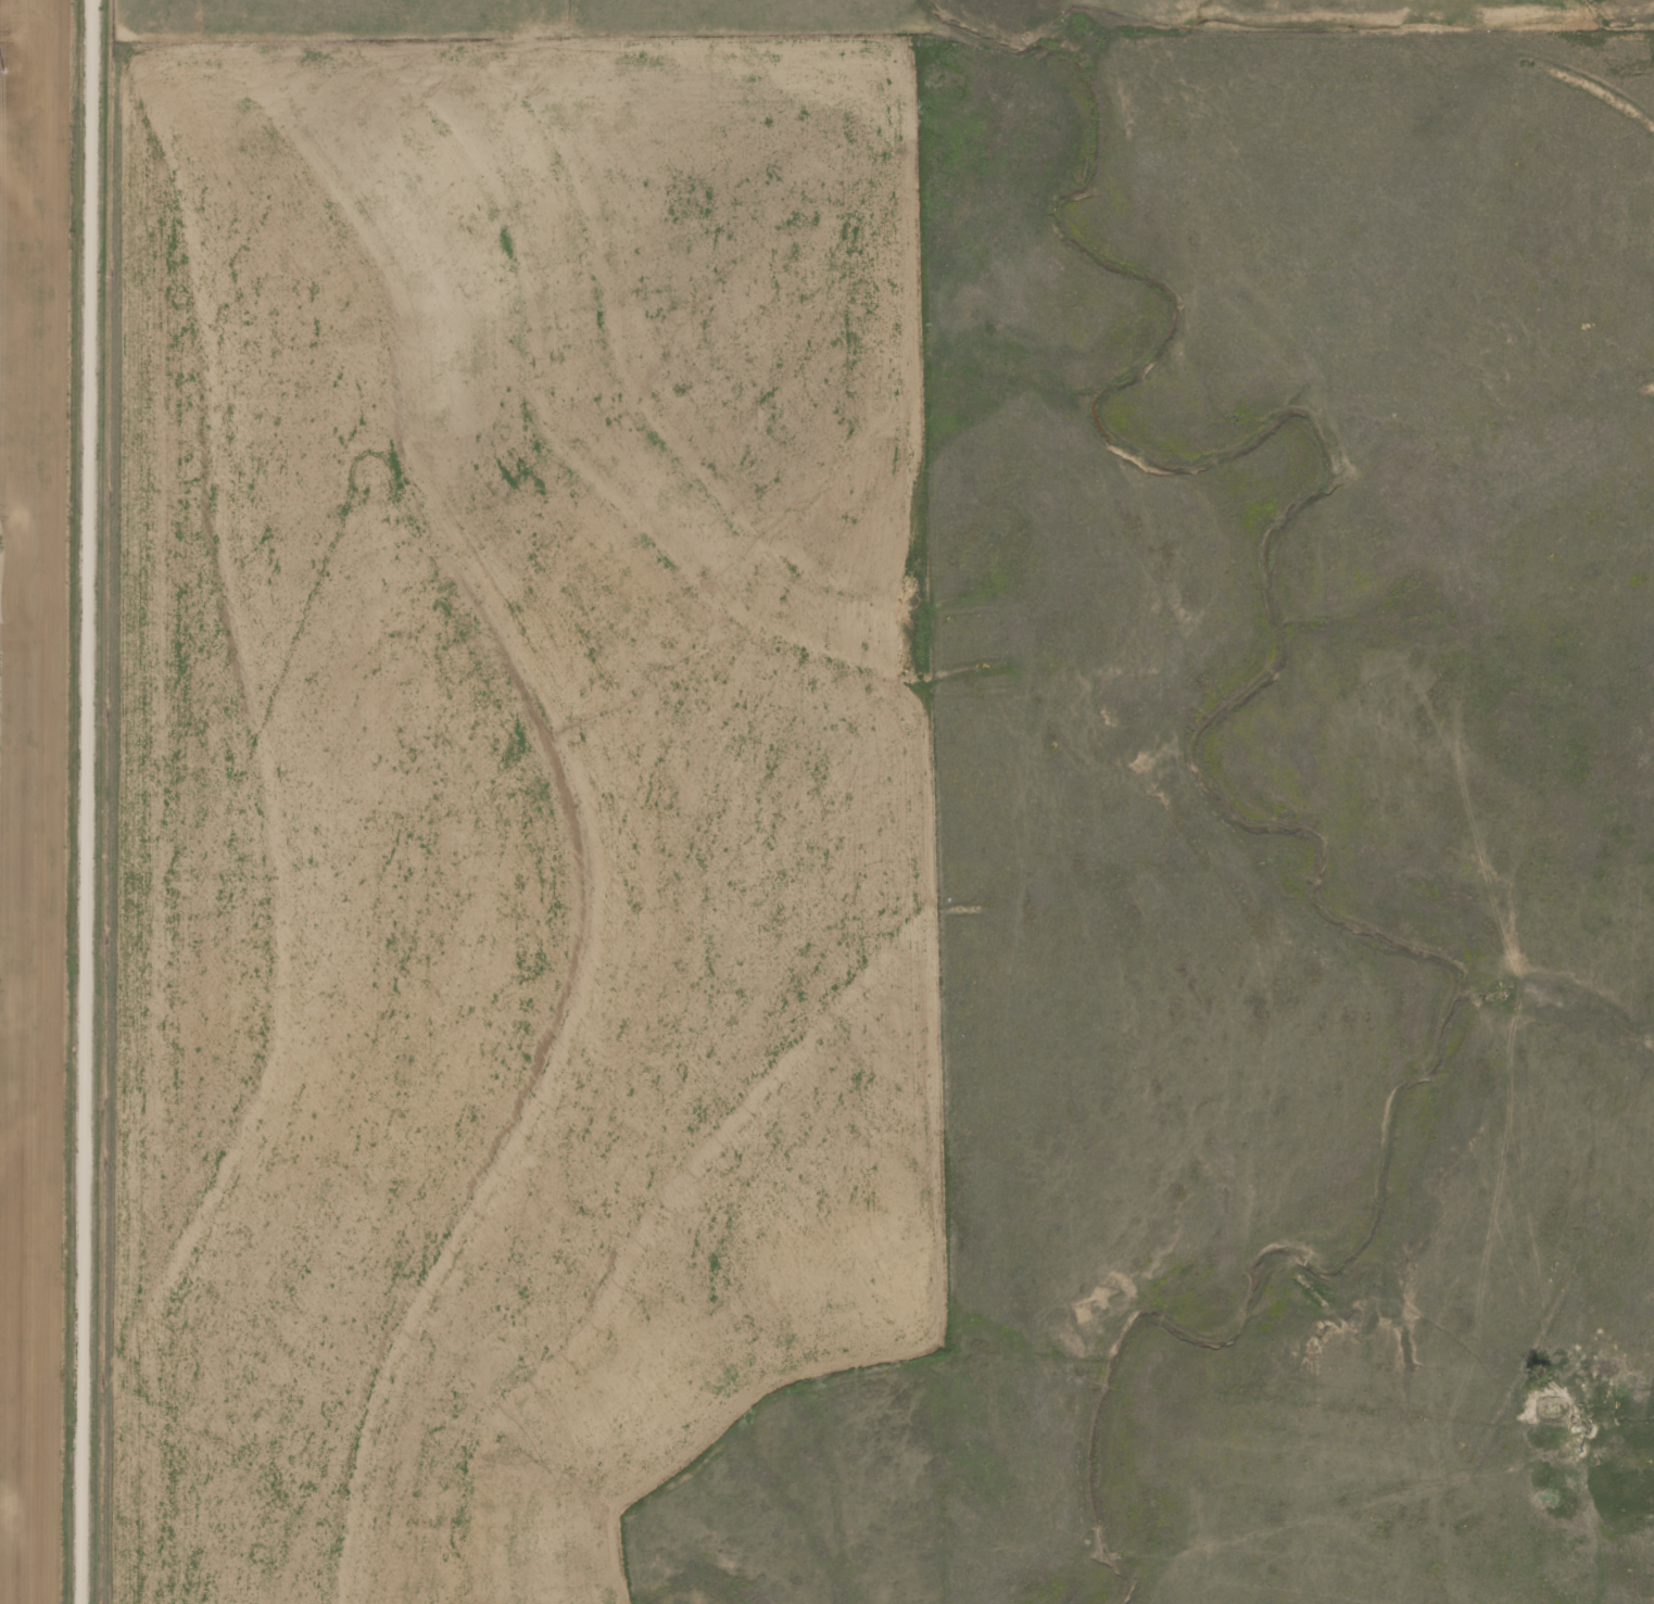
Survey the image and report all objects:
power tower: (2, 68)
road: (92, 801)

